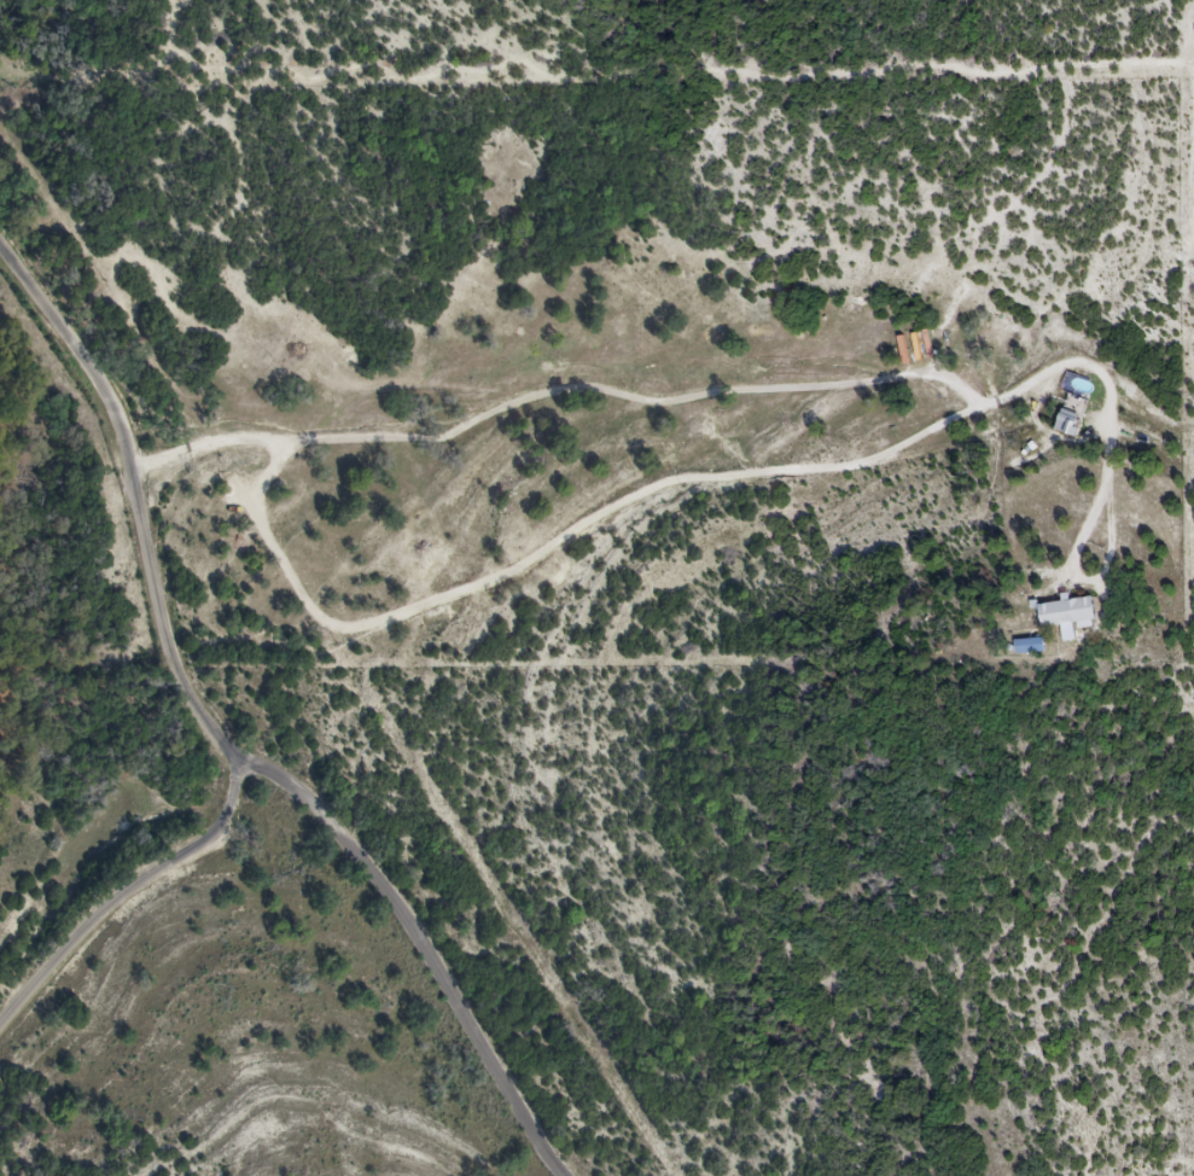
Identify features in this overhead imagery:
road: (716, 398)
building: (1066, 423)
building: (1066, 613)
road: (180, 674)
road: (415, 948)

